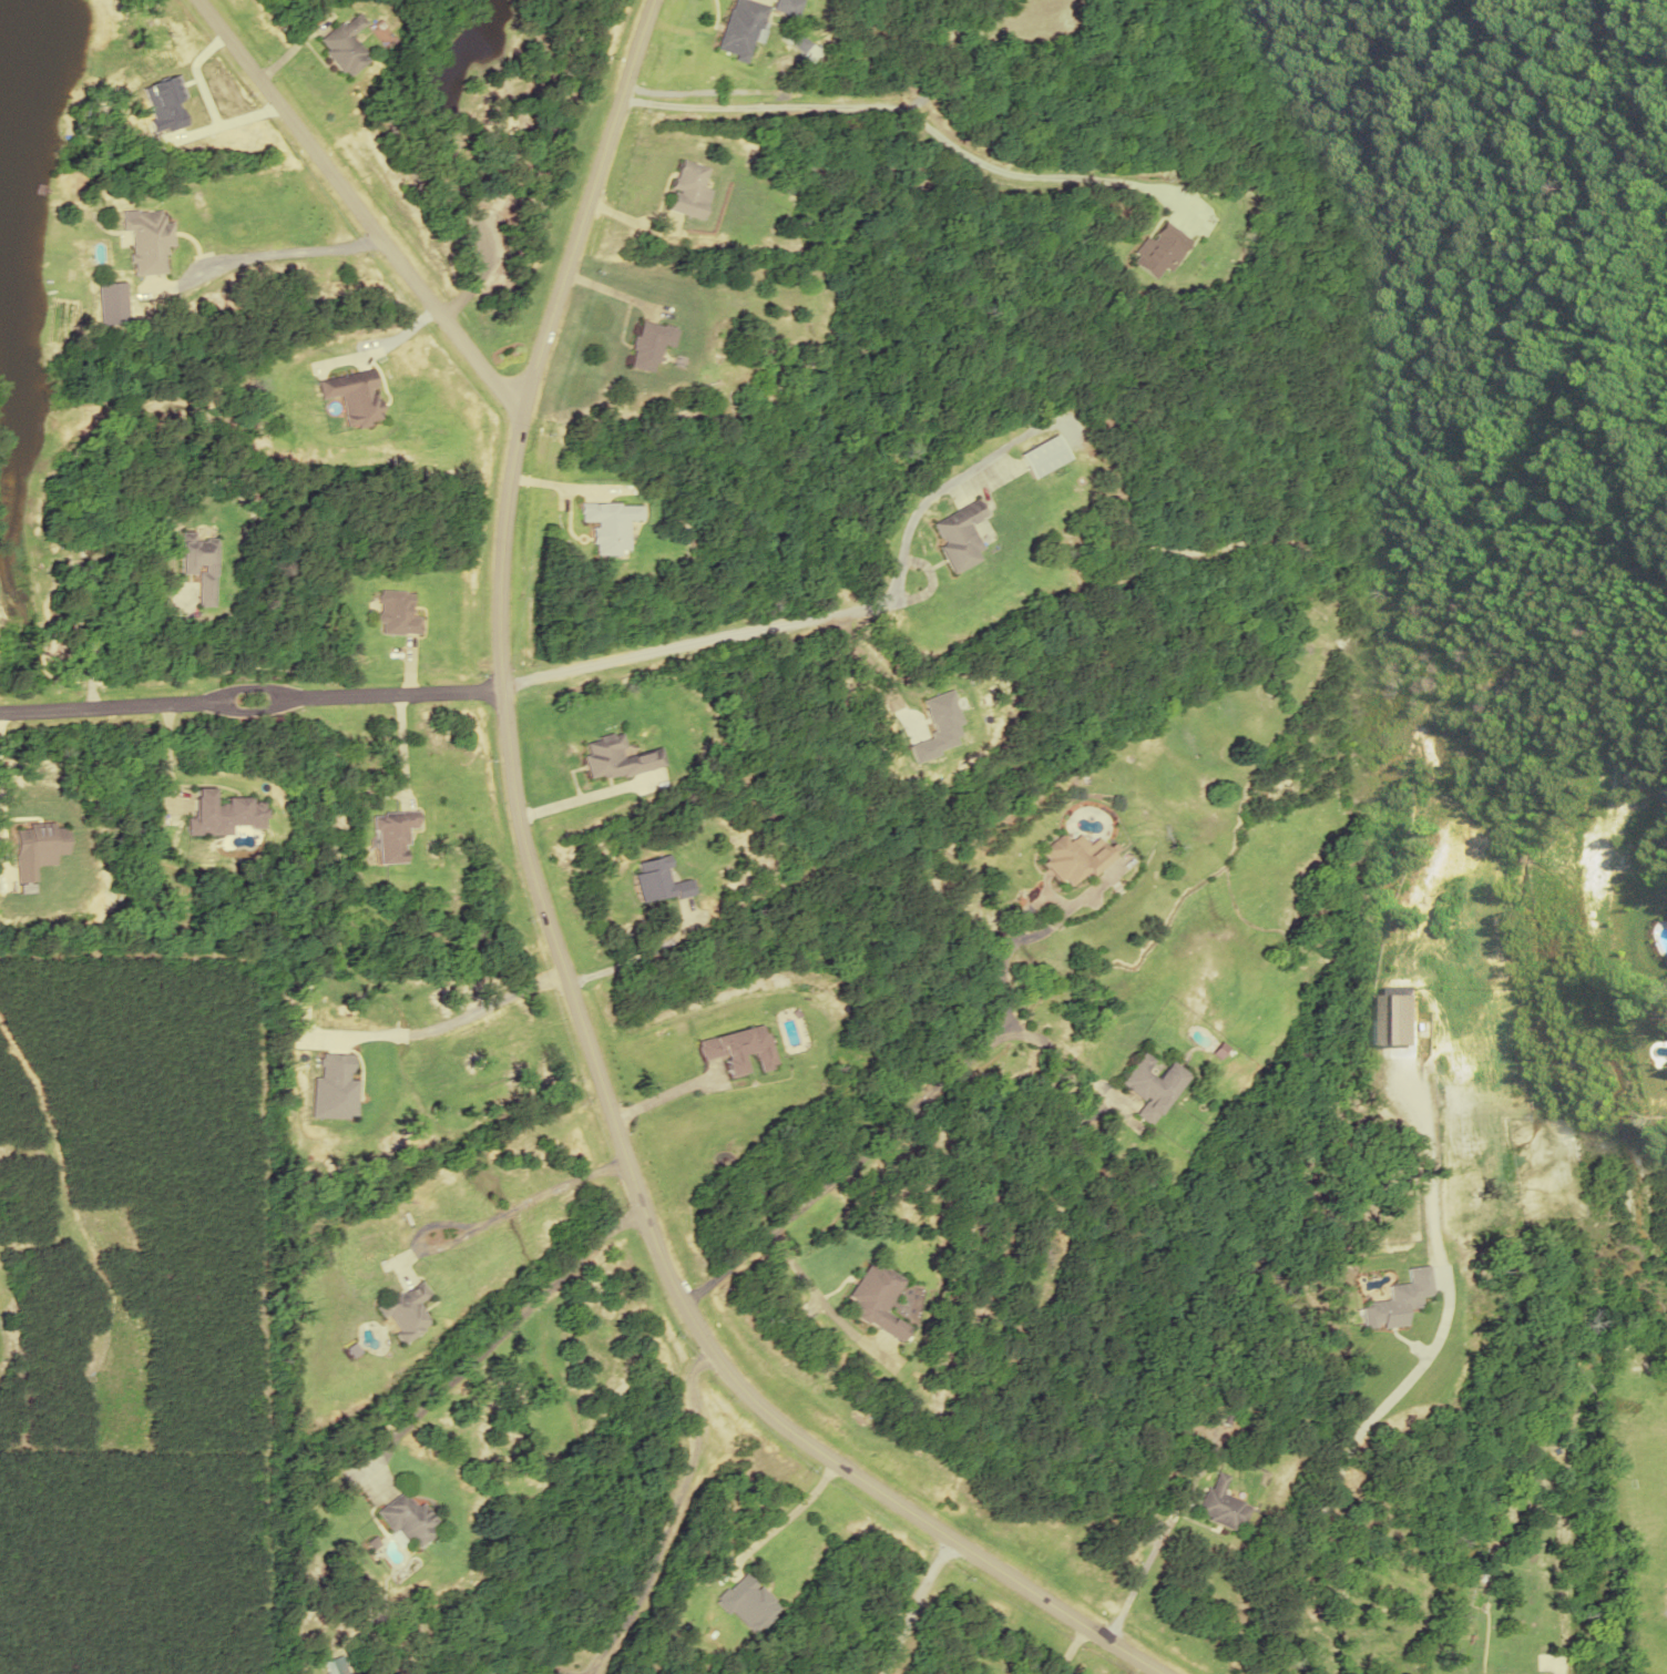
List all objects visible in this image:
building: (785, 6)
building: (742, 27)
building: (342, 43)
road: (901, 109)
building: (687, 188)
road: (355, 205)
building: (144, 239)
building: (647, 343)
building: (351, 396)
building: (1043, 456)
building: (608, 522)
building: (957, 533)
building: (196, 563)
building: (395, 612)
road: (794, 622)
road: (249, 690)
building: (612, 757)
building: (222, 813)
building: (390, 835)
building: (1072, 859)
building: (654, 880)
road: (556, 955)
building: (738, 1048)
building: (1150, 1085)
road: (847, 1165)
building: (873, 1299)
building: (402, 1311)
road: (501, 1338)
building: (1220, 1504)
building: (407, 1520)
building: (747, 1601)
road: (919, 1606)
building: (329, 1666)
road: (884, 1668)

